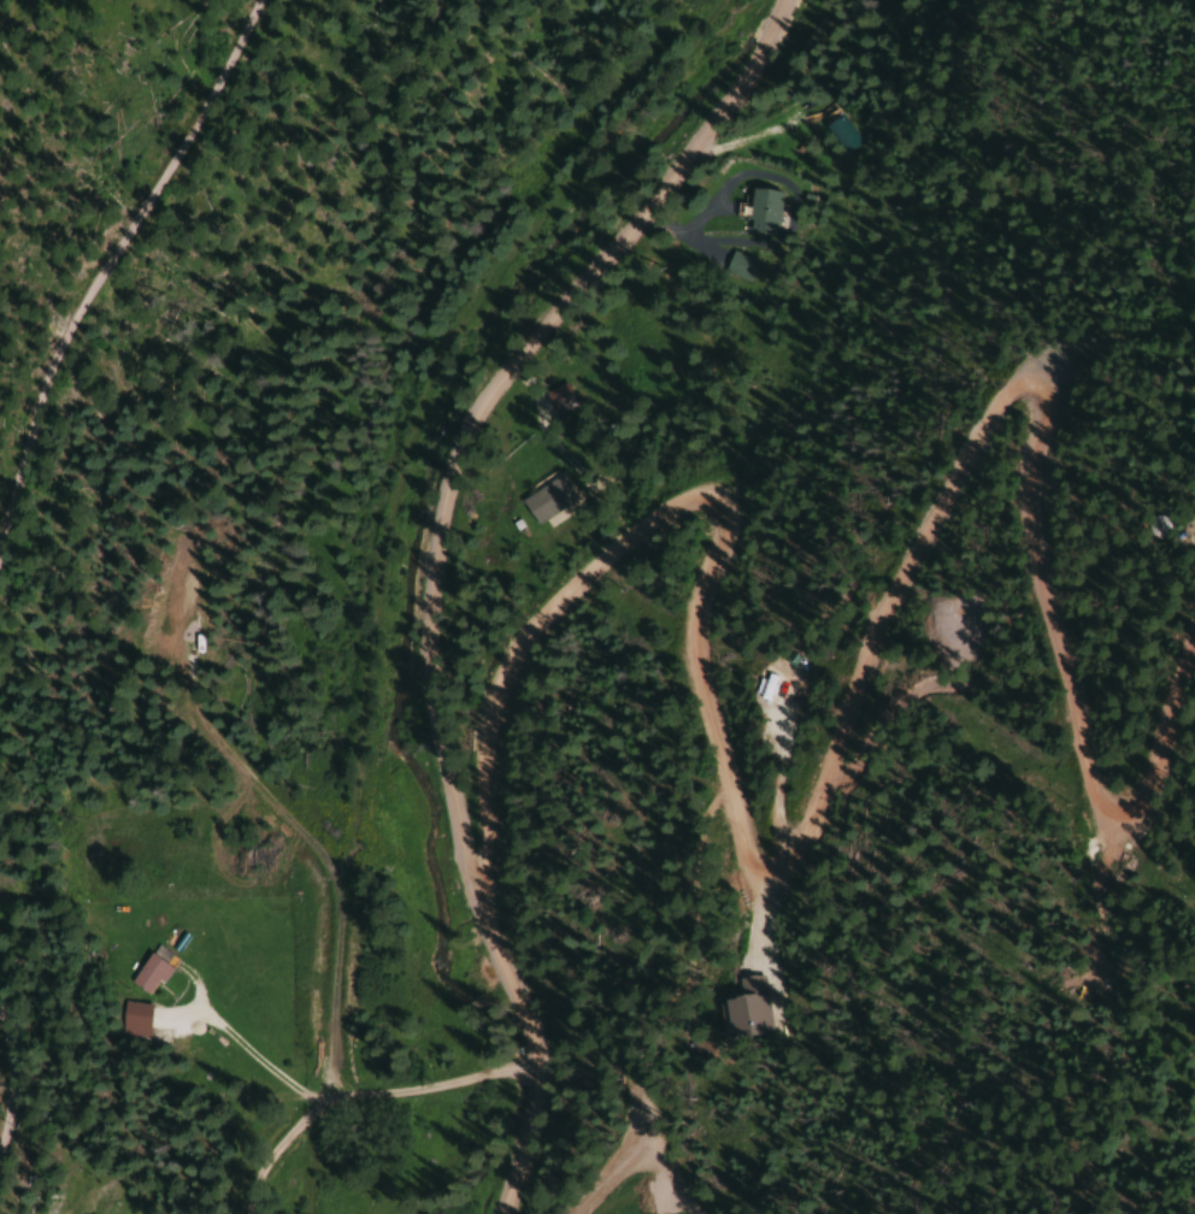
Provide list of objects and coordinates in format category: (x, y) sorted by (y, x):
building: (841, 134)
building: (763, 211)
road: (110, 251)
building: (738, 266)
building: (546, 500)
road: (441, 565)
road: (840, 749)
building: (148, 972)
building: (746, 1008)
road: (339, 1092)
building: (28, 1209)

